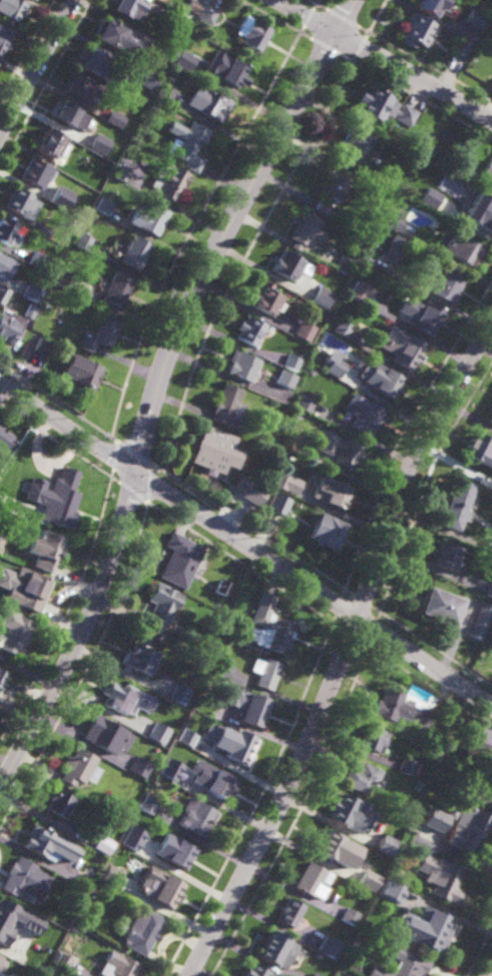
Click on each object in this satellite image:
building: (429, 5)
building: (192, 6)
building: (125, 7)
building: (483, 8)
building: (11, 10)
building: (206, 14)
building: (475, 18)
building: (175, 20)
building: (415, 30)
building: (252, 32)
building: (113, 36)
building: (4, 39)
building: (461, 47)
building: (166, 52)
road: (385, 59)
building: (182, 62)
building: (95, 64)
road: (37, 68)
building: (229, 71)
building: (139, 73)
building: (81, 86)
building: (166, 93)
building: (208, 102)
building: (384, 106)
building: (69, 116)
building: (114, 119)
building: (52, 143)
building: (99, 143)
building: (186, 144)
building: (354, 145)
building: (123, 169)
building: (35, 172)
building: (488, 175)
building: (80, 177)
building: (372, 179)
building: (169, 181)
building: (332, 189)
building: (62, 197)
building: (431, 198)
building: (22, 203)
building: (104, 206)
building: (485, 218)
building: (153, 219)
building: (392, 221)
building: (42, 229)
building: (8, 230)
building: (306, 231)
building: (84, 241)
building: (397, 245)
building: (463, 250)
building: (136, 253)
building: (34, 258)
building: (344, 264)
building: (288, 265)
building: (5, 267)
building: (67, 279)
building: (447, 285)
building: (118, 290)
building: (361, 291)
building: (33, 293)
building: (3, 295)
building: (323, 297)
building: (267, 299)
building: (31, 311)
building: (424, 316)
building: (10, 327)
building: (343, 328)
building: (251, 331)
building: (306, 331)
building: (101, 334)
building: (43, 346)
building: (402, 347)
building: (322, 359)
building: (292, 362)
building: (334, 364)
building: (244, 366)
building: (81, 372)
building: (286, 379)
building: (384, 380)
road: (157, 386)
building: (306, 403)
building: (228, 405)
building: (365, 414)
building: (490, 415)
building: (490, 419)
building: (4, 438)
building: (294, 440)
building: (481, 448)
building: (349, 454)
building: (209, 458)
traffic signals: (136, 472)
building: (282, 479)
building: (249, 490)
building: (336, 493)
building: (55, 495)
building: (455, 502)
building: (278, 504)
building: (317, 530)
road: (246, 543)
building: (45, 548)
road: (91, 550)
building: (446, 554)
building: (180, 559)
building: (221, 587)
building: (28, 588)
building: (489, 589)
building: (441, 605)
building: (160, 607)
building: (482, 621)
building: (270, 626)
building: (14, 631)
road: (343, 651)
building: (203, 653)
building: (139, 657)
building: (222, 669)
building: (265, 672)
building: (2, 676)
building: (178, 694)
building: (117, 698)
building: (247, 705)
building: (393, 705)
building: (99, 730)
building: (157, 733)
building: (183, 736)
building: (373, 736)
building: (236, 747)
building: (480, 753)
building: (408, 766)
building: (78, 767)
building: (139, 767)
building: (167, 771)
building: (361, 776)
building: (216, 783)
building: (422, 786)
building: (479, 791)
building: (59, 803)
building: (147, 804)
building: (342, 808)
building: (162, 815)
building: (196, 816)
building: (434, 820)
building: (468, 826)
building: (39, 840)
building: (130, 844)
building: (327, 844)
building: (104, 847)
building: (384, 849)
building: (179, 854)
building: (110, 875)
building: (20, 877)
building: (441, 877)
building: (86, 881)
building: (310, 881)
building: (371, 887)
building: (161, 888)
building: (393, 891)
building: (289, 913)
building: (350, 917)
building: (16, 922)
building: (426, 929)
building: (144, 933)
building: (330, 948)
building: (276, 950)
building: (61, 961)
building: (2, 962)
building: (116, 966)
building: (408, 966)
building: (255, 972)
building: (314, 975)

